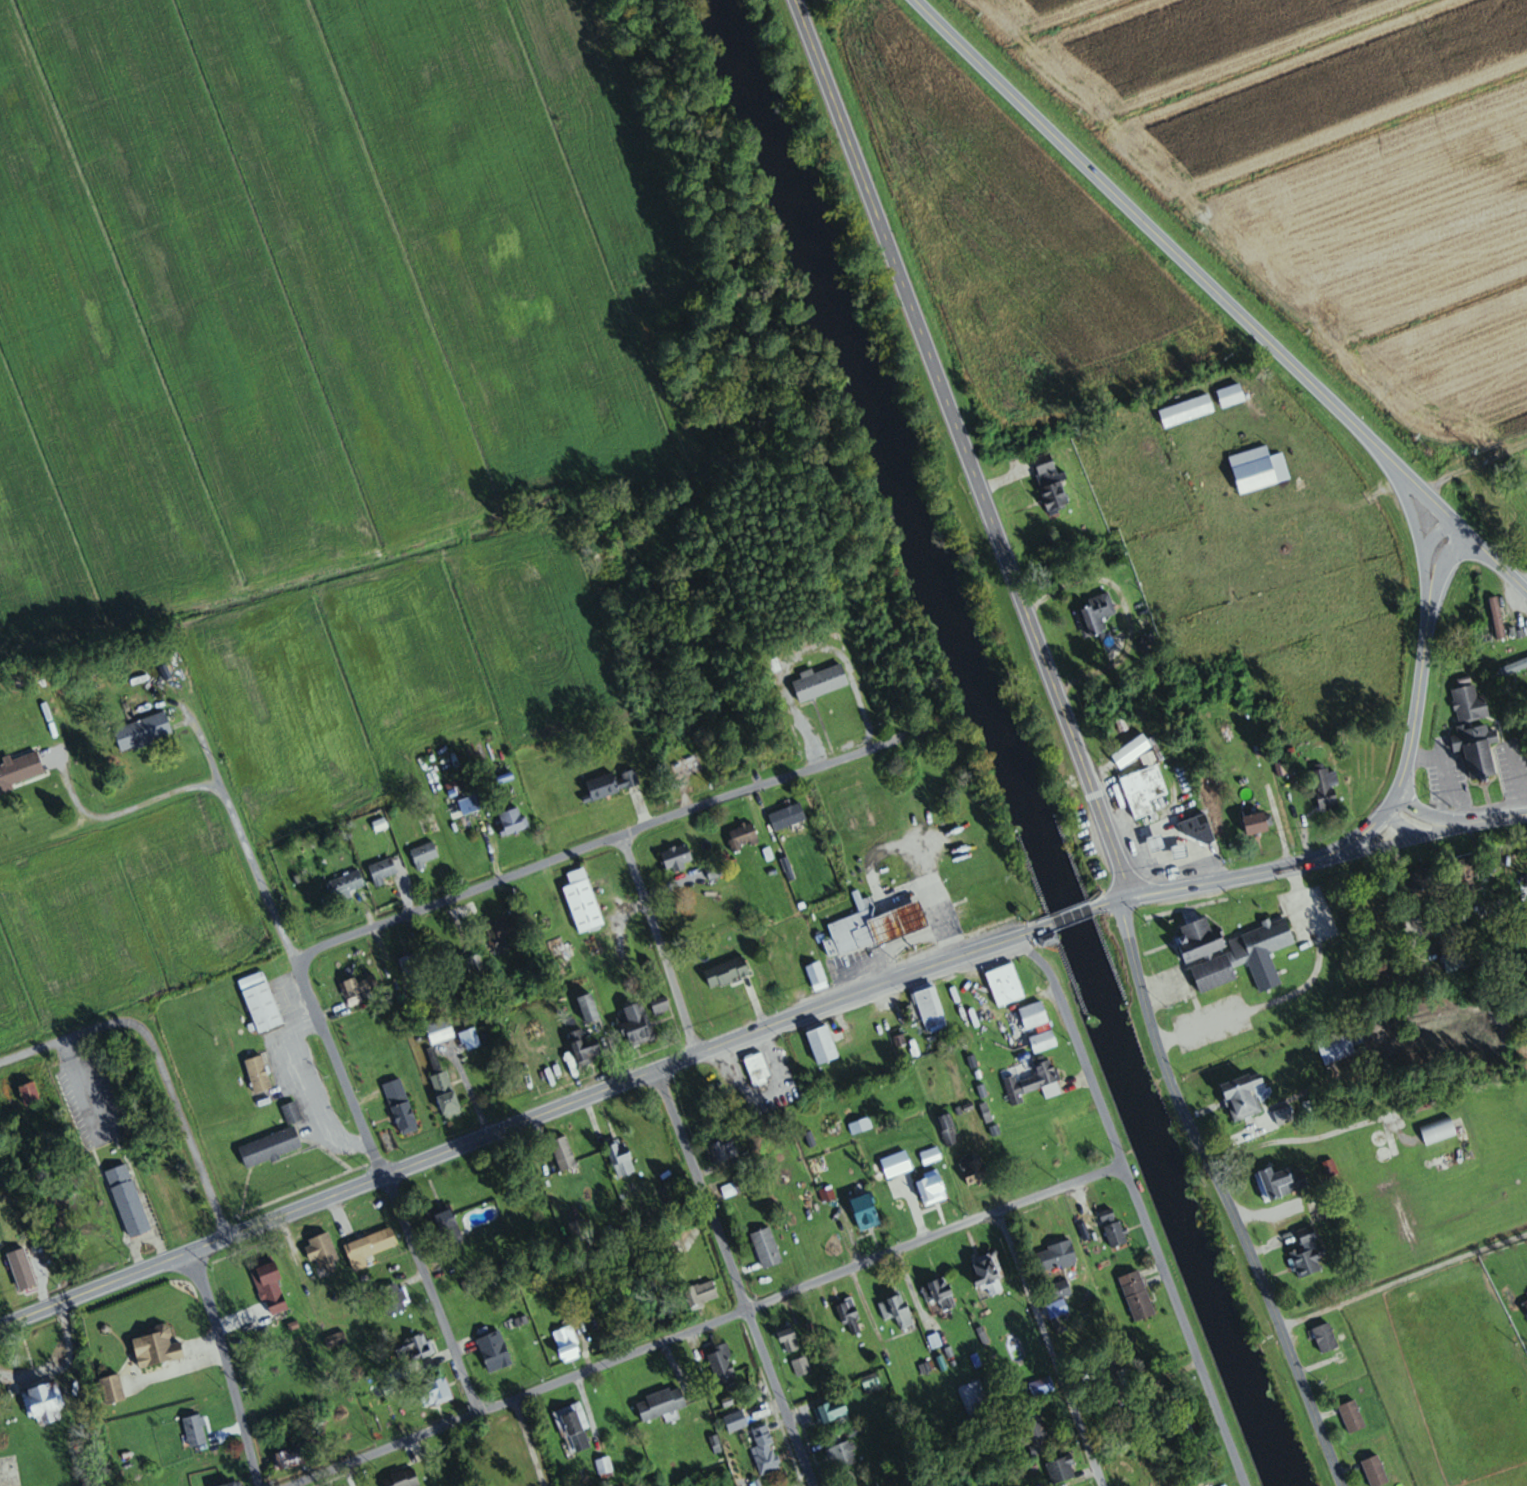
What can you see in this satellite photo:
road: (1188, 263)
building: (1231, 396)
building: (1186, 411)
road: (960, 447)
building: (1259, 470)
building: (1051, 485)
road: (1494, 558)
building: (1096, 615)
building: (1497, 617)
road: (1422, 663)
building: (1515, 666)
building: (821, 681)
building: (1474, 729)
building: (143, 731)
building: (20, 770)
building: (608, 785)
building: (1144, 789)
building: (1327, 789)
building: (478, 801)
road: (122, 810)
building: (788, 816)
building: (512, 820)
building: (1257, 822)
road: (1457, 823)
building: (1198, 828)
building: (743, 836)
road: (598, 845)
building: (424, 854)
building: (677, 857)
road: (1264, 870)
building: (383, 871)
building: (1465, 874)
building: (1428, 879)
building: (346, 884)
road: (1112, 899)
building: (583, 901)
road: (1075, 913)
building: (873, 926)
building: (504, 930)
building: (1200, 939)
building: (1448, 942)
road: (660, 945)
building: (1244, 953)
building: (560, 955)
building: (412, 968)
building: (727, 972)
building: (480, 973)
building: (817, 976)
road: (305, 979)
building: (1005, 985)
building: (354, 988)
road: (851, 993)
road: (1292, 994)
building: (260, 1002)
building: (661, 1005)
building: (589, 1008)
building: (930, 1008)
building: (636, 1026)
building: (1038, 1026)
building: (440, 1031)
building: (470, 1039)
building: (822, 1045)
building: (585, 1047)
building: (1336, 1047)
road: (154, 1063)
building: (757, 1068)
building: (258, 1074)
building: (1034, 1081)
building: (29, 1093)
building: (446, 1094)
building: (1242, 1098)
building: (401, 1107)
building: (291, 1112)
building: (1284, 1116)
building: (948, 1130)
building: (1438, 1131)
building: (1063, 1138)
building: (270, 1147)
building: (720, 1151)
building: (563, 1153)
building: (931, 1156)
building: (621, 1157)
building: (896, 1164)
road: (1130, 1169)
building: (975, 1170)
building: (1281, 1182)
building: (730, 1186)
building: (932, 1188)
road: (1219, 1194)
road: (329, 1197)
building: (128, 1201)
road: (1138, 1207)
building: (865, 1211)
building: (1317, 1211)
building: (446, 1225)
building: (1113, 1227)
building: (579, 1230)
building: (675, 1246)
building: (370, 1247)
building: (766, 1248)
building: (323, 1254)
building: (1308, 1255)
building: (1057, 1256)
building: (267, 1271)
building: (988, 1271)
building: (24, 1274)
road: (733, 1276)
road: (1404, 1282)
building: (1060, 1290)
road: (10, 1291)
building: (701, 1293)
building: (939, 1294)
building: (1137, 1295)
road: (429, 1296)
building: (394, 1297)
building: (1525, 1303)
building: (896, 1310)
building: (849, 1315)
road: (710, 1324)
building: (1325, 1338)
building: (789, 1340)
building: (567, 1344)
building: (158, 1347)
road: (1048, 1348)
building: (414, 1349)
building: (494, 1351)
building: (722, 1365)
road: (226, 1366)
building: (802, 1367)
building: (871, 1384)
building: (1041, 1386)
building: (112, 1389)
building: (973, 1397)
building: (44, 1403)
building: (661, 1403)
building: (831, 1411)
building: (1352, 1416)
building: (736, 1422)
building: (573, 1429)
building: (195, 1430)
building: (1034, 1436)
road: (526, 1444)
building: (765, 1448)
building: (843, 1455)
building: (289, 1459)
building: (604, 1468)
building: (1061, 1470)
building: (1375, 1471)
building: (402, 1479)
building: (234, 1484)
building: (873, 1485)

